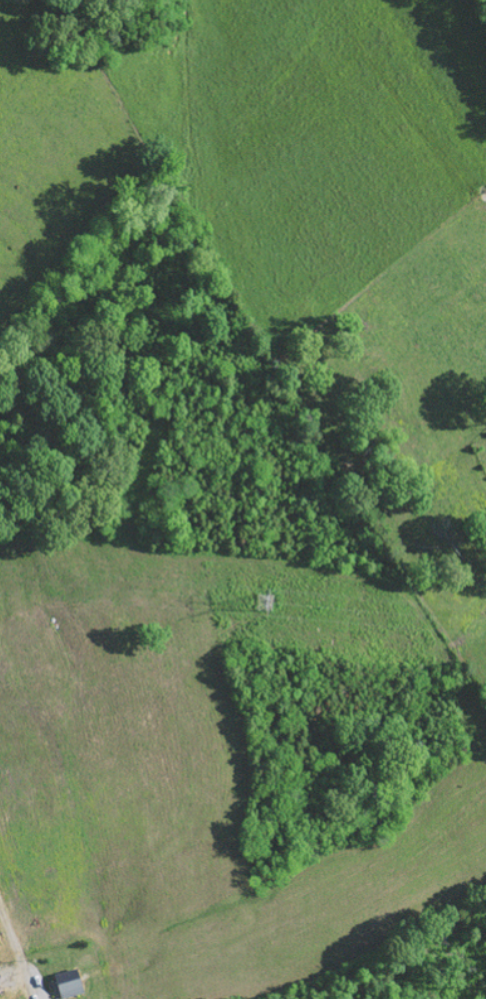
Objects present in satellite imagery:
power tower: (264, 603)
building: (71, 983)
building: (0, 992)

